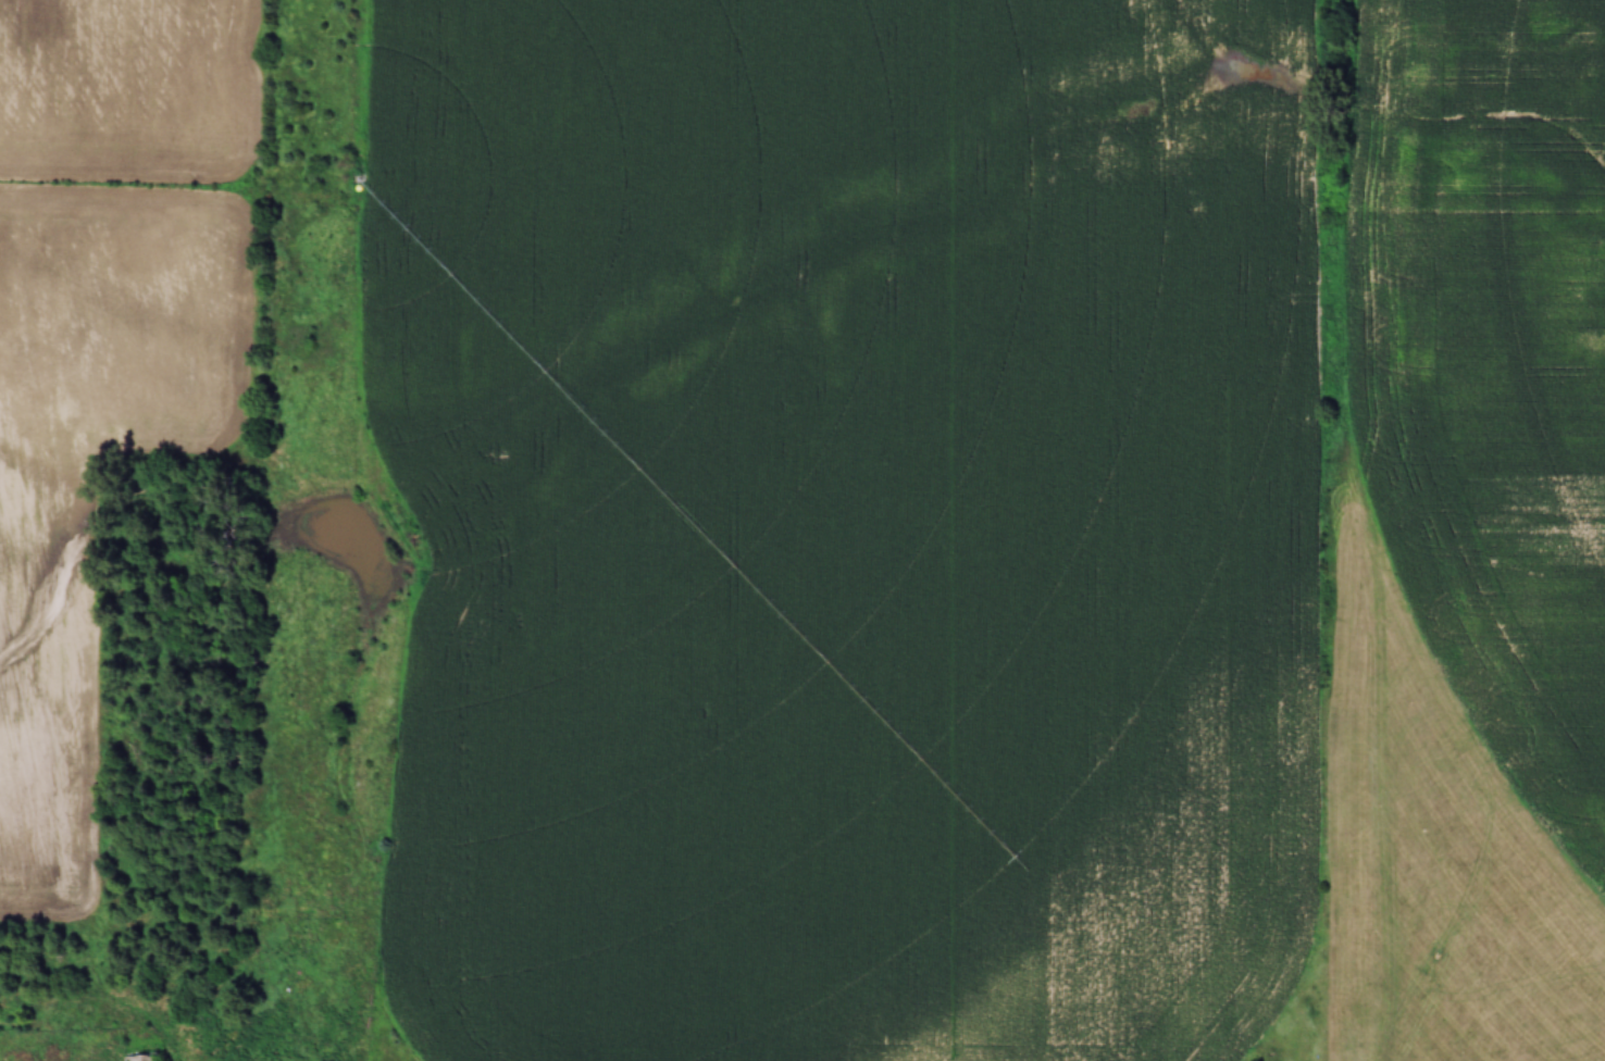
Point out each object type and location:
building: (142, 1057)

